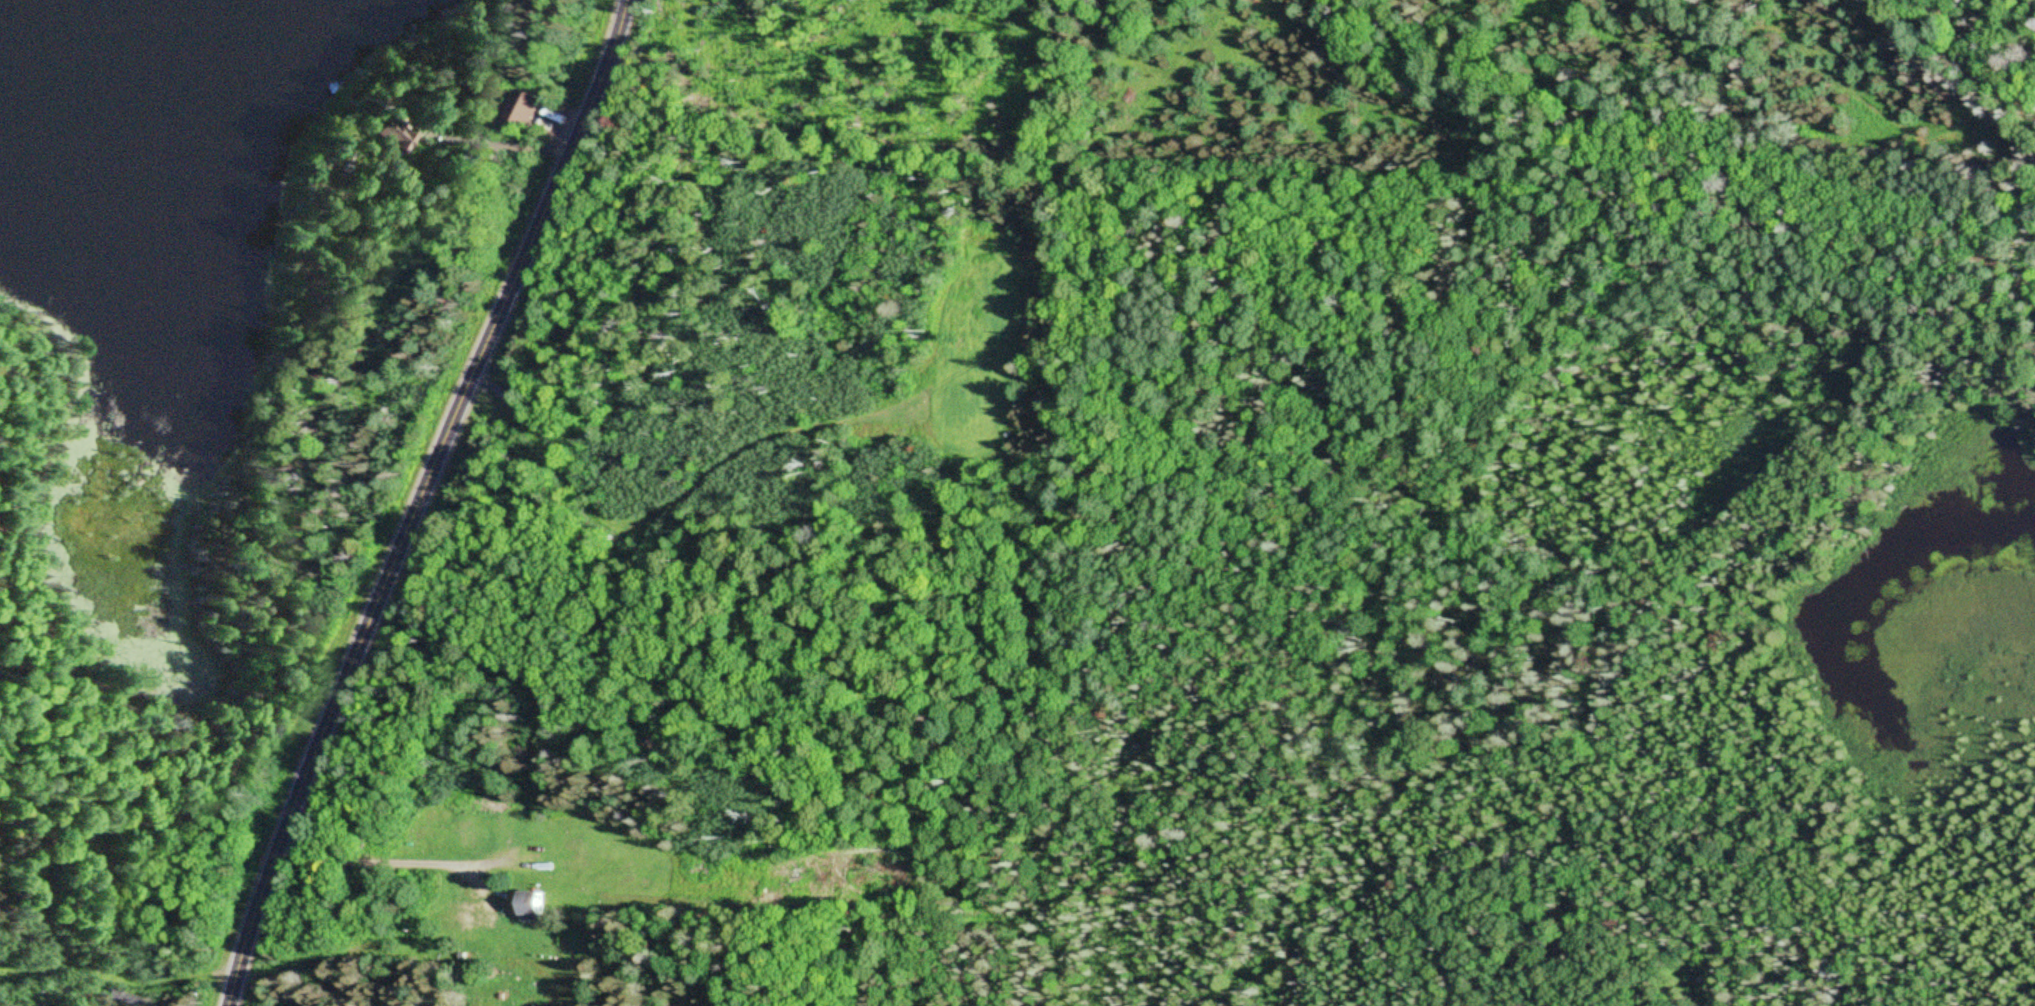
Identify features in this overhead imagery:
building: (528, 109)
building: (392, 137)
road: (419, 499)
building: (538, 906)

